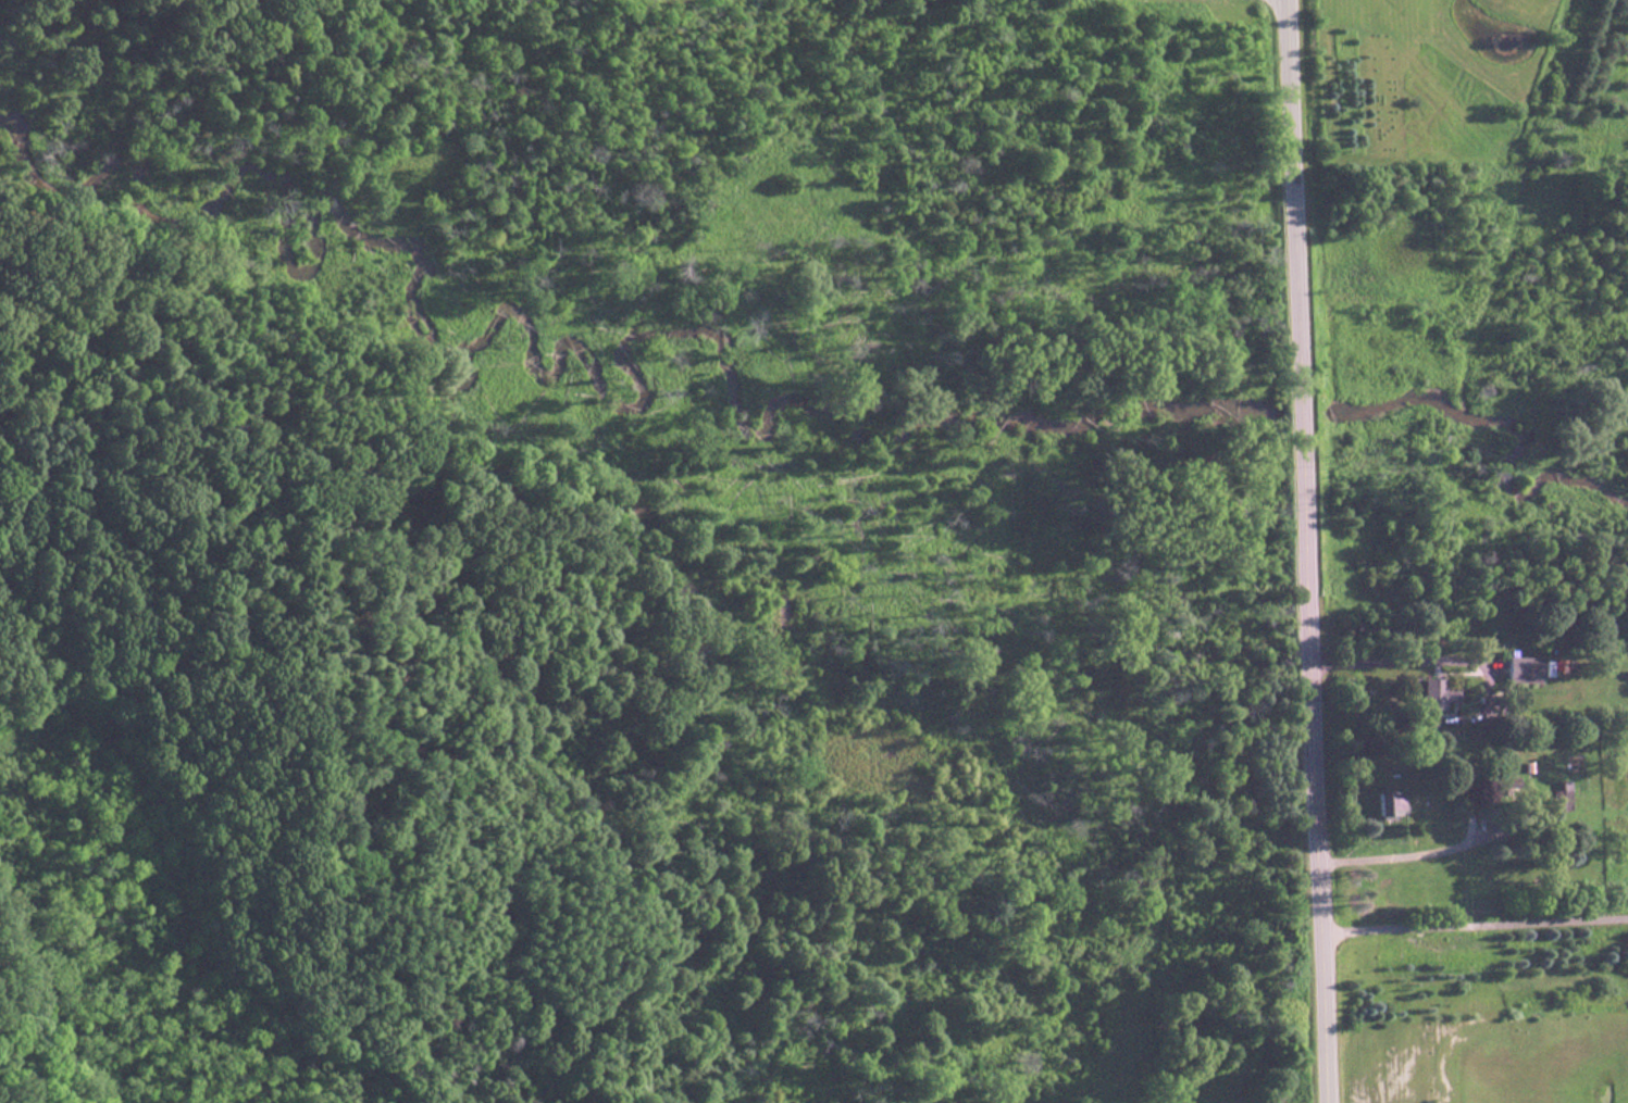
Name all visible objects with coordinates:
parking lot: (704, 0)
road: (1309, 551)
park: (642, 554)
road: (1388, 661)
building: (1517, 670)
building: (1431, 697)
road: (202, 795)
building: (1555, 799)
building: (1380, 806)
road: (1397, 852)
road: (1476, 912)

